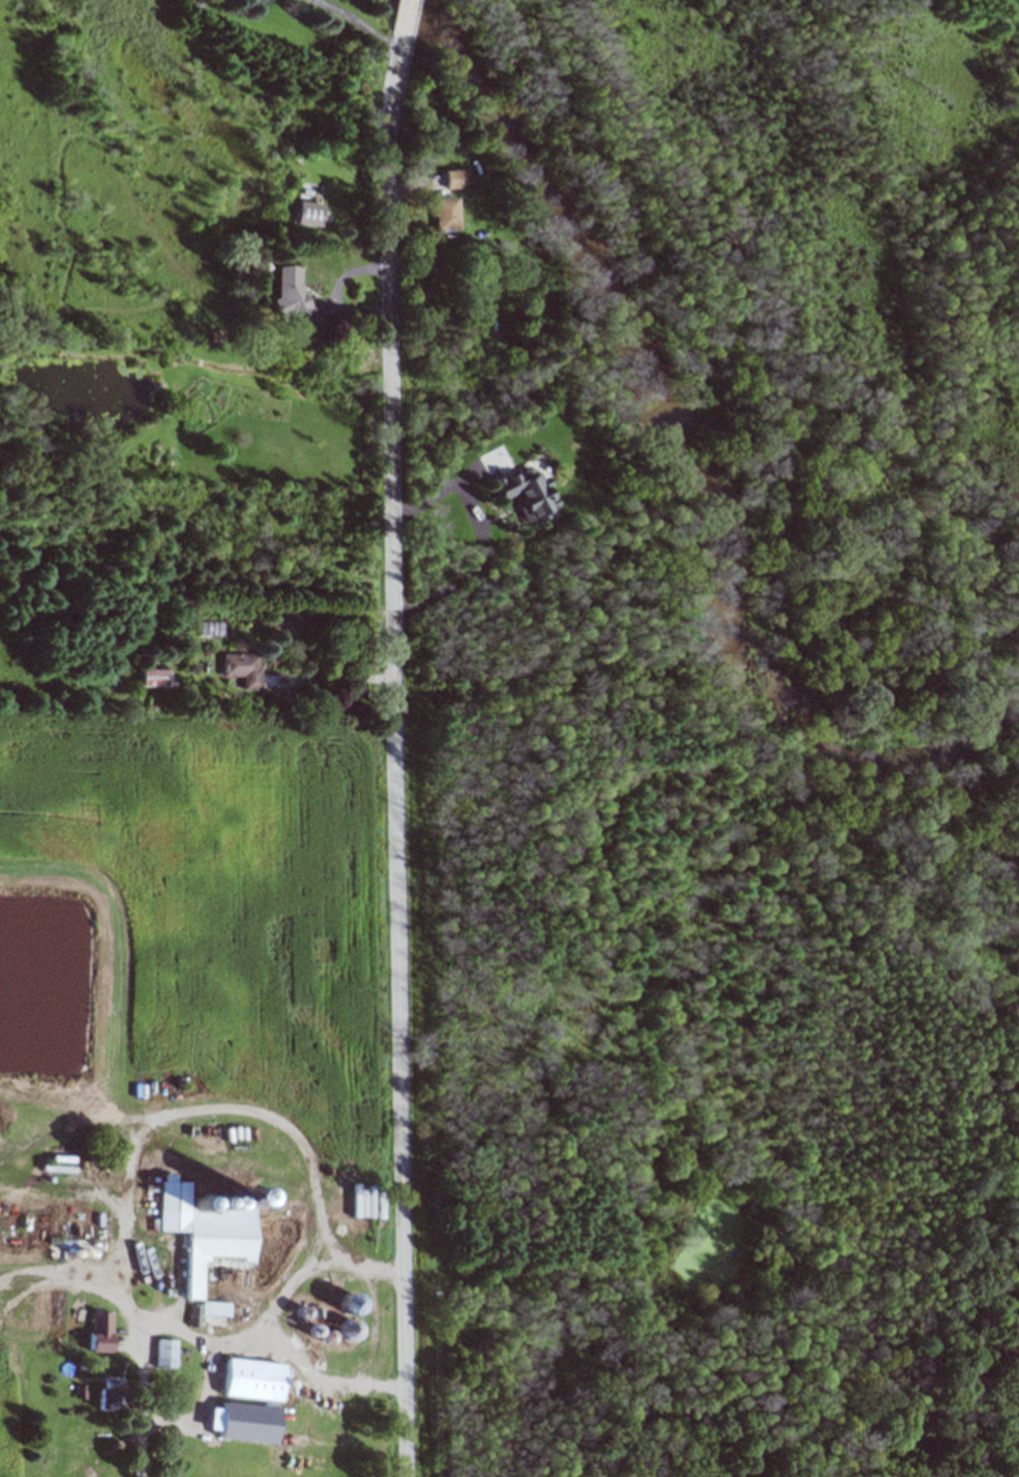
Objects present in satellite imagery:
road: (406, 20)
building: (457, 178)
building: (308, 213)
building: (448, 213)
building: (295, 292)
building: (472, 331)
river: (696, 457)
building: (528, 493)
building: (286, 620)
building: (212, 628)
building: (244, 668)
building: (155, 677)
road: (401, 758)
building: (207, 1227)
building: (350, 1304)
building: (207, 1311)
building: (100, 1331)
building: (166, 1353)
building: (110, 1393)
building: (262, 1397)
crop: (12, 1418)

